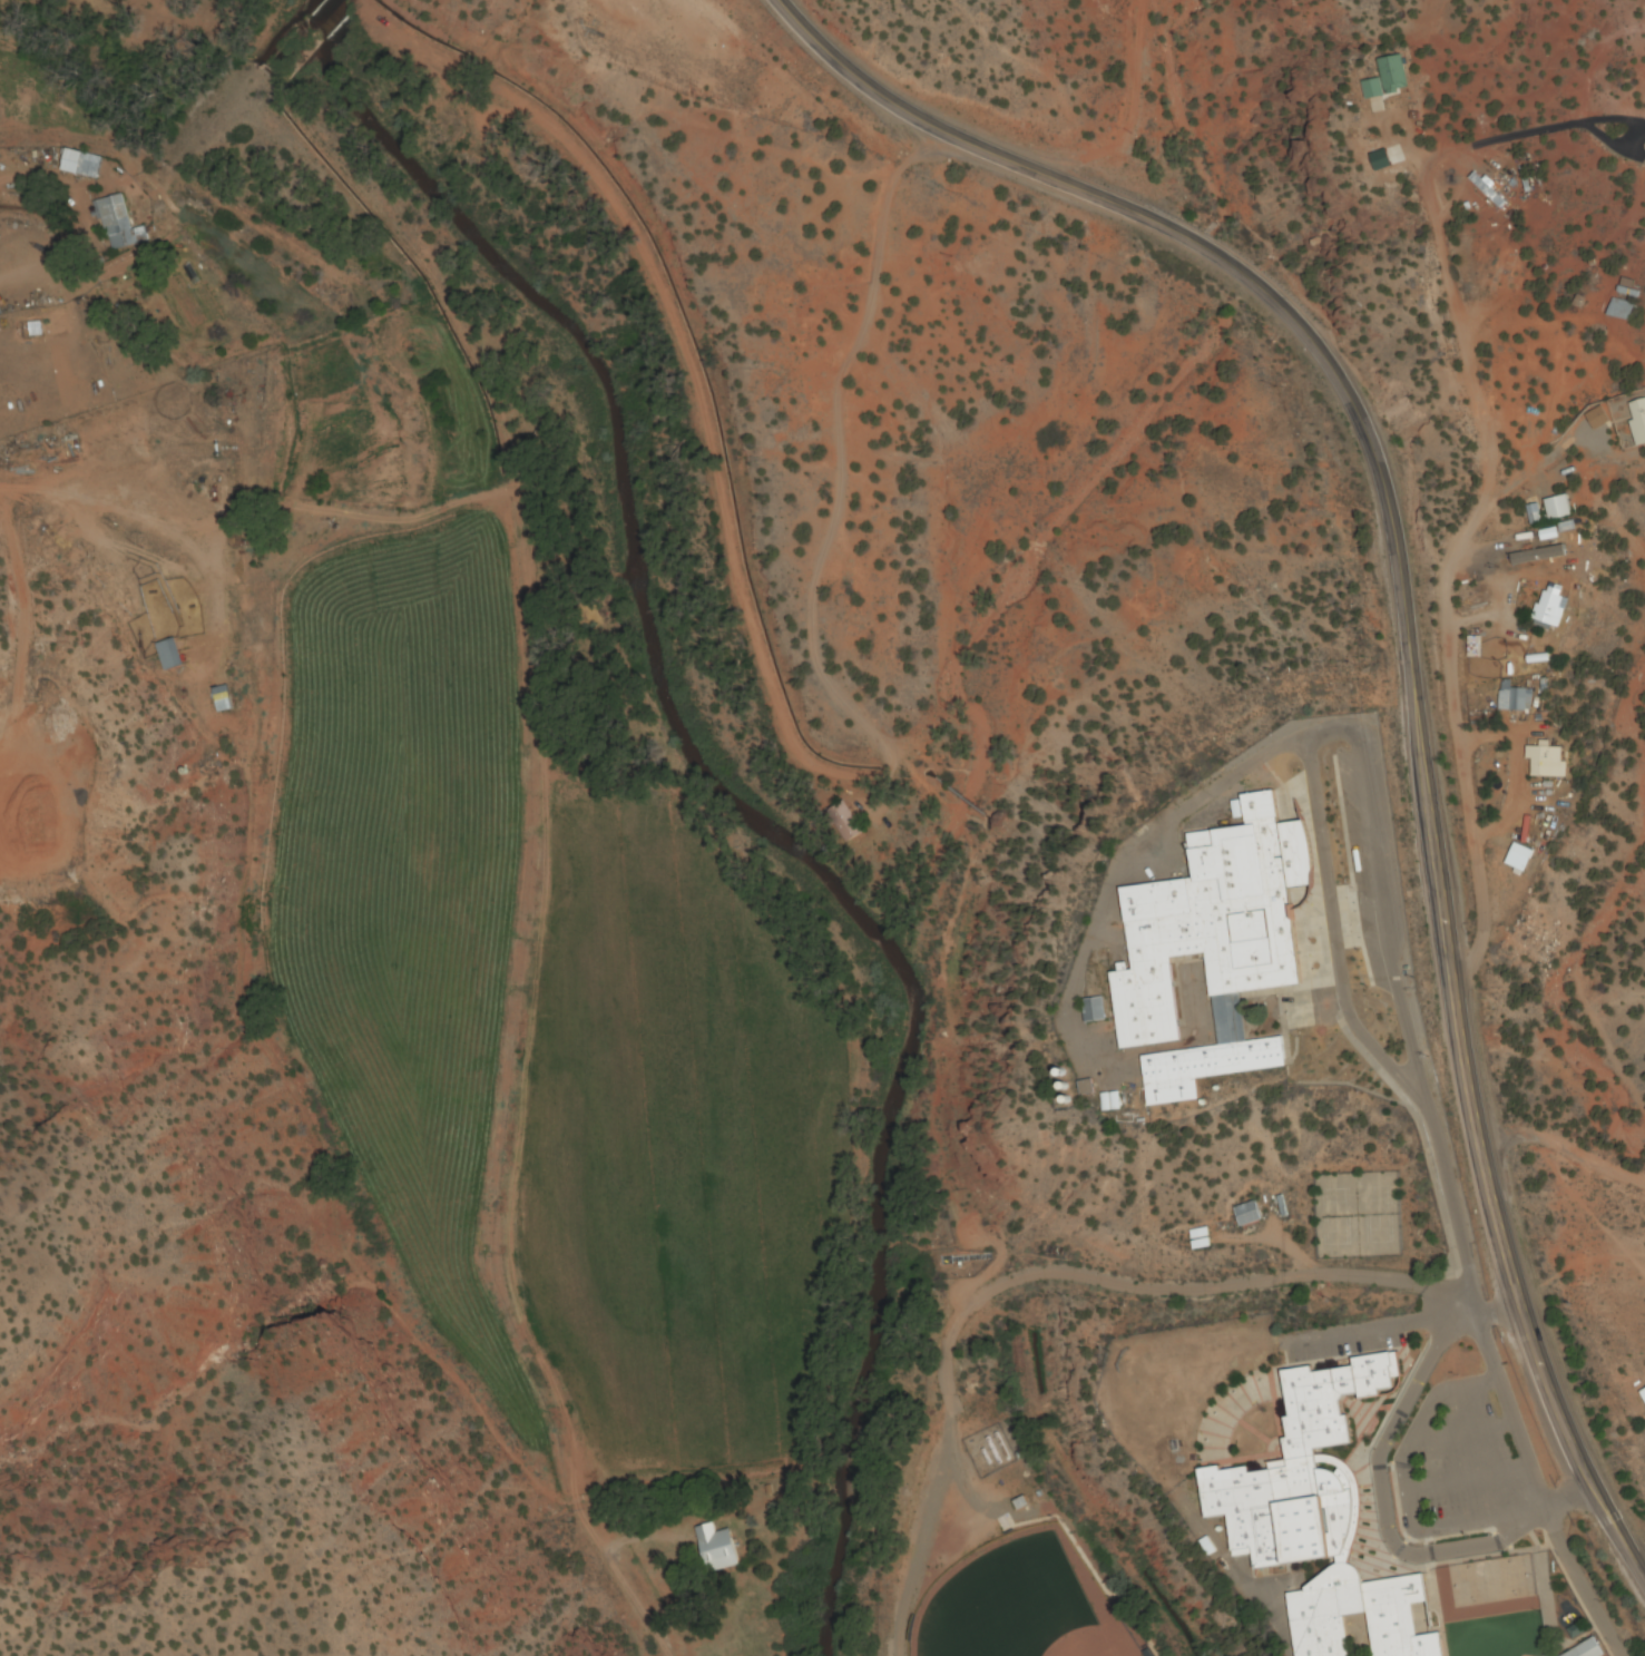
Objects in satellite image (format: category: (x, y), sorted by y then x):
building: (1388, 79)
road: (1124, 121)
building: (82, 164)
building: (1486, 192)
building: (117, 223)
building: (1498, 272)
building: (1619, 311)
building: (1637, 420)
building: (200, 463)
building: (1558, 508)
building: (1534, 515)
road: (1450, 551)
building: (1537, 556)
building: (1550, 607)
road: (1408, 647)
building: (168, 655)
building: (1512, 698)
building: (222, 699)
road: (1320, 738)
building: (1546, 762)
road: (838, 776)
building: (844, 823)
building: (1518, 860)
building: (1208, 943)
building: (1093, 1010)
building: (1109, 1101)
road: (1564, 1148)
road: (1449, 1209)
building: (1246, 1214)
park: (1351, 1214)
building: (1198, 1238)
road: (1035, 1277)
building: (1643, 1395)
road: (1506, 1410)
parking lot: (1461, 1459)
road: (1377, 1497)
building: (1319, 1519)
building: (717, 1549)
road: (636, 1606)
park: (1008, 1606)
building: (1588, 1649)

